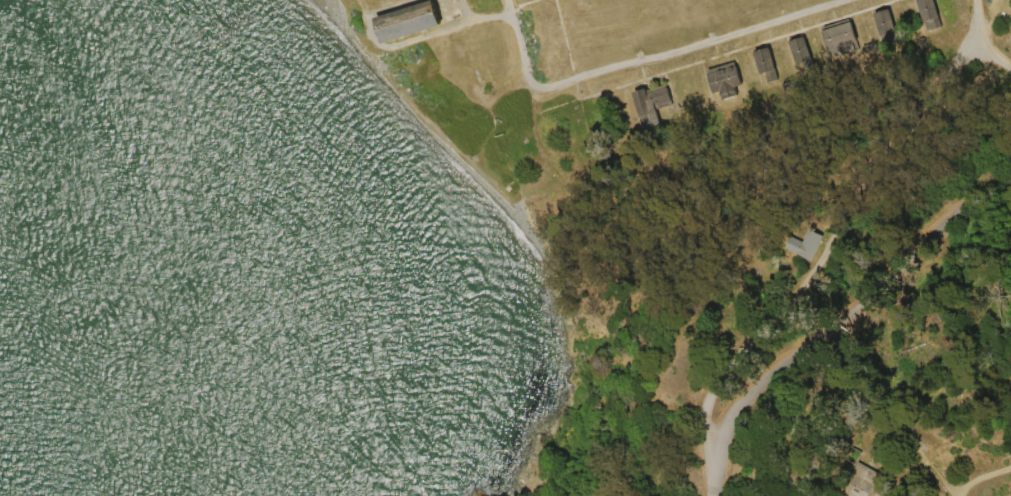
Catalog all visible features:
flagpole: (590, 7)
building: (935, 9)
building: (891, 21)
building: (410, 23)
building: (940, 23)
road: (989, 32)
building: (896, 37)
building: (846, 38)
building: (876, 47)
building: (806, 52)
road: (647, 57)
building: (770, 64)
building: (729, 81)
building: (794, 84)
building: (653, 102)
building: (741, 114)
road: (595, 175)
park: (744, 230)
building: (815, 244)
road: (837, 261)
road: (842, 334)
building: (875, 478)
road: (993, 483)
park: (474, 494)

